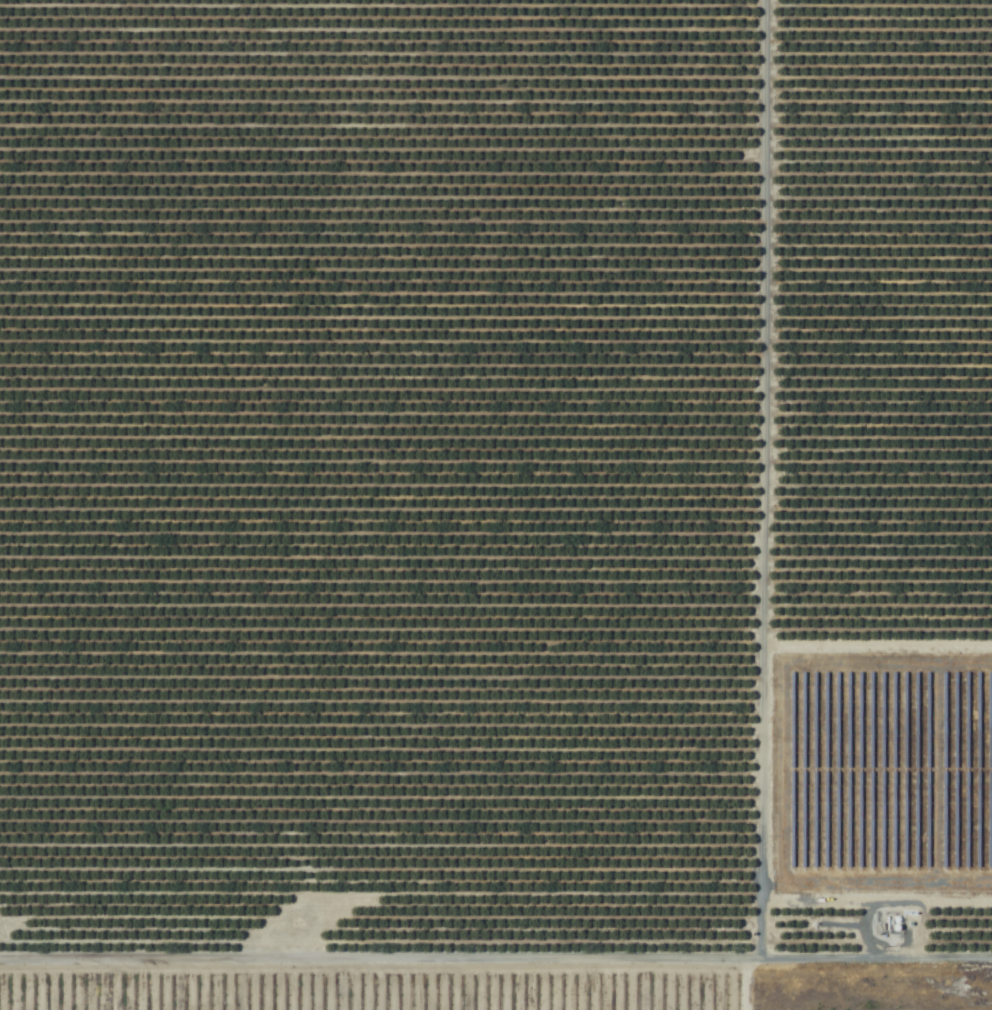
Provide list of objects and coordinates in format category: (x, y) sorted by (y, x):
road: (756, 482)
crop: (496, 486)
solar farm: (879, 778)
road: (495, 963)

